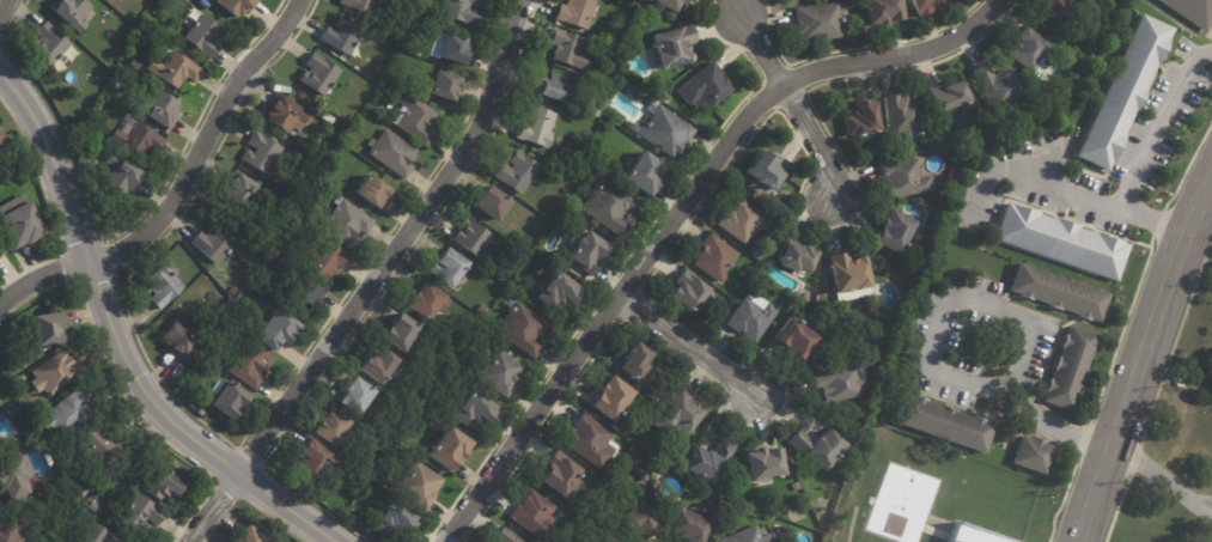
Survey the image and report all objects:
building: (686, 0)
building: (668, 4)
building: (358, 5)
building: (236, 6)
building: (920, 6)
road: (4, 7)
building: (881, 10)
building: (1058, 10)
building: (1194, 10)
building: (464, 11)
building: (71, 12)
building: (577, 12)
building: (1125, 13)
building: (817, 22)
building: (637, 24)
building: (162, 28)
building: (203, 35)
building: (341, 35)
building: (47, 43)
building: (670, 47)
building: (566, 48)
road: (763, 48)
building: (1029, 48)
building: (453, 49)
building: (418, 50)
building: (402, 59)
building: (133, 62)
building: (175, 69)
building: (1027, 73)
building: (99, 74)
building: (318, 74)
building: (443, 85)
building: (705, 86)
building: (554, 87)
building: (998, 91)
building: (1122, 91)
building: (302, 95)
building: (662, 95)
building: (948, 96)
building: (597, 98)
building: (158, 109)
building: (596, 110)
building: (284, 114)
building: (901, 116)
building: (414, 118)
building: (861, 118)
road: (1158, 121)
building: (537, 127)
building: (664, 130)
building: (135, 138)
road: (814, 139)
building: (5, 141)
road: (203, 145)
building: (260, 152)
building: (391, 153)
building: (315, 156)
building: (334, 163)
building: (517, 171)
building: (767, 171)
building: (641, 175)
building: (120, 176)
building: (903, 177)
road: (1064, 185)
building: (240, 190)
building: (370, 191)
building: (774, 201)
building: (491, 203)
building: (608, 207)
road: (684, 213)
building: (785, 217)
building: (742, 220)
building: (24, 223)
building: (345, 223)
building: (891, 231)
building: (470, 238)
building: (526, 240)
building: (1060, 242)
building: (212, 243)
road: (402, 248)
building: (2, 250)
building: (586, 251)
building: (757, 255)
building: (714, 257)
building: (796, 258)
building: (325, 261)
building: (446, 267)
building: (846, 272)
building: (162, 284)
road: (41, 285)
building: (456, 285)
building: (556, 288)
building: (233, 290)
building: (687, 291)
building: (1060, 291)
building: (808, 296)
building: (304, 297)
building: (425, 299)
building: (482, 309)
building: (750, 317)
road: (1017, 317)
building: (55, 328)
building: (522, 328)
building: (273, 331)
building: (397, 331)
building: (793, 339)
road: (120, 340)
building: (176, 340)
road: (700, 352)
building: (631, 361)
building: (246, 364)
building: (378, 364)
building: (1076, 366)
road: (1141, 366)
building: (60, 371)
building: (500, 373)
building: (838, 383)
building: (354, 395)
building: (608, 397)
building: (224, 398)
building: (413, 406)
building: (14, 409)
building: (474, 409)
building: (200, 412)
building: (71, 413)
building: (680, 415)
building: (948, 425)
building: (330, 427)
building: (847, 430)
building: (587, 440)
building: (106, 443)
building: (817, 445)
building: (447, 449)
building: (1, 453)
building: (1039, 453)
building: (309, 457)
building: (709, 464)
building: (762, 464)
building: (132, 469)
building: (558, 473)
building: (646, 475)
building: (363, 479)
road: (1163, 480)
building: (22, 482)
building: (171, 485)
building: (420, 486)
building: (798, 487)
building: (96, 508)
road: (218, 508)
road: (1207, 508)
building: (146, 513)
building: (532, 516)
building: (394, 522)
building: (638, 522)
building: (689, 523)
building: (11, 532)
building: (980, 534)
building: (105, 535)
building: (505, 535)
building: (257, 536)
building: (744, 536)
building: (65, 541)
building: (72, 541)
building: (585, 541)
building: (597, 541)

